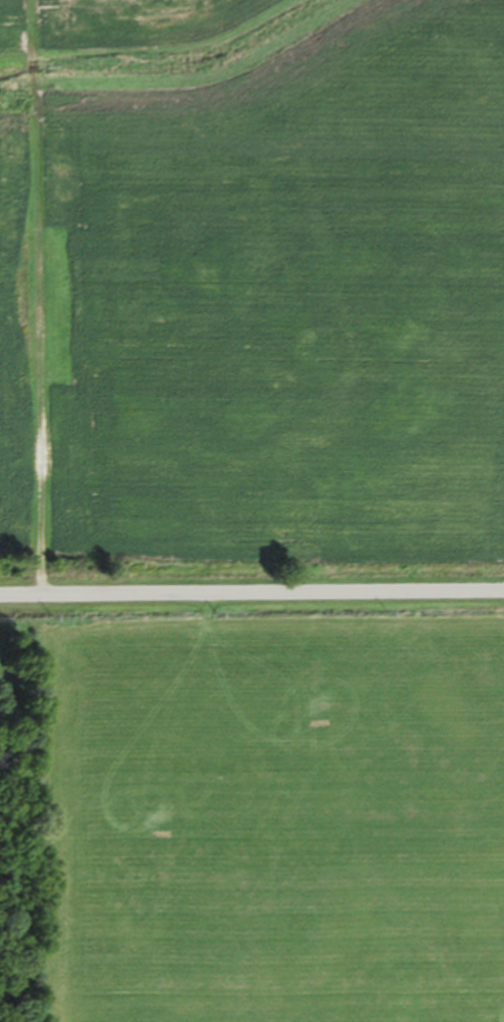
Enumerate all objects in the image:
road: (252, 594)

